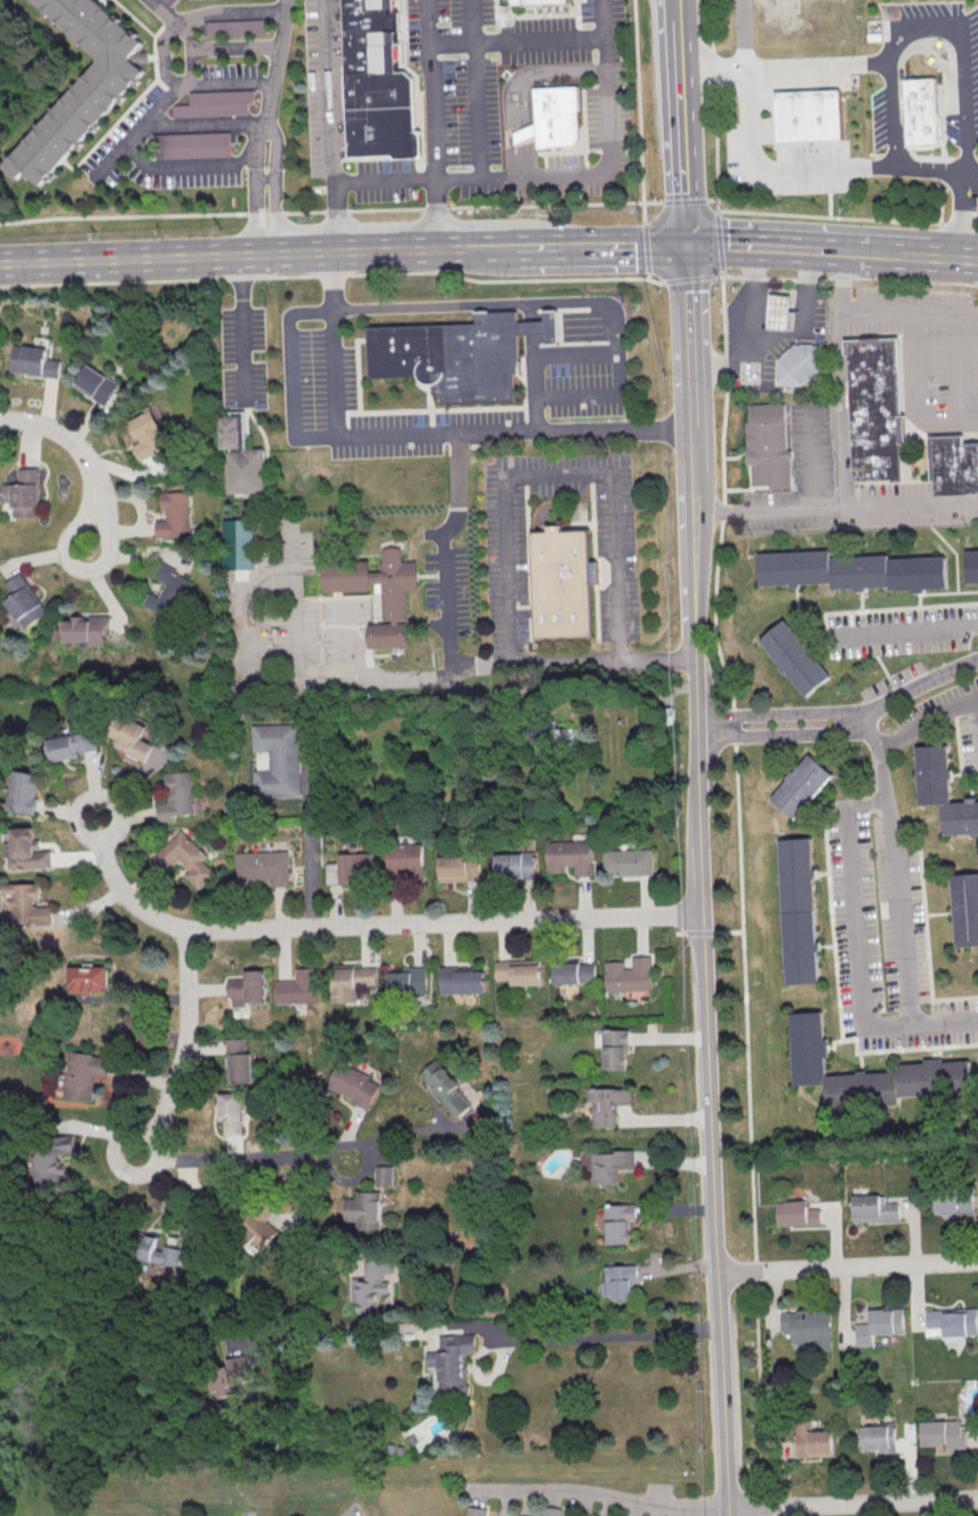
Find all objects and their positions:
building: (167, 1)
building: (540, 2)
road: (674, 8)
road: (161, 12)
building: (234, 27)
road: (742, 36)
road: (515, 39)
road: (161, 46)
road: (233, 47)
road: (962, 48)
road: (705, 52)
road: (275, 61)
road: (818, 66)
parking lot: (967, 73)
road: (677, 76)
building: (376, 84)
building: (79, 86)
road: (521, 87)
road: (474, 88)
road: (704, 94)
parking lot: (484, 98)
building: (214, 103)
road: (159, 106)
road: (715, 106)
building: (923, 112)
building: (813, 113)
parking lot: (760, 114)
building: (556, 117)
road: (430, 123)
road: (207, 124)
road: (333, 125)
building: (523, 135)
road: (782, 143)
road: (258, 144)
building: (191, 145)
road: (278, 145)
road: (820, 170)
road: (188, 171)
road: (560, 175)
road: (828, 179)
road: (268, 182)
road: (682, 189)
road: (686, 200)
road: (713, 200)
road: (644, 201)
road: (422, 207)
road: (259, 210)
road: (278, 211)
road: (847, 218)
traffic signals: (684, 242)
road: (598, 244)
road: (720, 244)
road: (768, 246)
road: (475, 247)
road: (424, 248)
road: (364, 249)
road: (288, 251)
road: (646, 251)
road: (876, 252)
road: (918, 255)
road: (130, 257)
road: (956, 257)
road: (332, 275)
road: (844, 276)
road: (687, 279)
road: (580, 301)
building: (777, 313)
gas station: (777, 313)
road: (909, 314)
road: (804, 317)
road: (243, 327)
road: (754, 336)
parking lot: (929, 352)
building: (459, 354)
building: (32, 361)
building: (798, 367)
road: (957, 371)
road: (289, 373)
building: (95, 384)
road: (917, 397)
building: (875, 410)
building: (148, 434)
road: (424, 434)
road: (573, 441)
road: (843, 444)
building: (768, 447)
road: (82, 457)
building: (240, 458)
building: (954, 466)
parking lot: (800, 481)
road: (499, 486)
building: (23, 493)
parking lot: (903, 507)
road: (806, 510)
building: (172, 516)
building: (238, 544)
building: (971, 567)
building: (851, 572)
building: (561, 583)
building: (165, 591)
building: (24, 601)
building: (394, 607)
building: (87, 629)
parking lot: (901, 632)
road: (906, 633)
building: (792, 659)
road: (563, 663)
road: (918, 687)
road: (977, 711)
road: (778, 715)
parking lot: (947, 719)
road: (927, 724)
building: (543, 734)
building: (135, 735)
road: (781, 736)
building: (73, 745)
building: (277, 760)
building: (800, 787)
building: (25, 792)
building: (942, 793)
building: (176, 796)
building: (24, 849)
building: (565, 853)
road: (310, 854)
building: (402, 857)
building: (184, 859)
building: (626, 863)
building: (511, 866)
building: (261, 869)
building: (350, 869)
building: (457, 869)
road: (698, 879)
road: (125, 889)
road: (740, 892)
road: (898, 902)
building: (25, 904)
building: (964, 911)
building: (797, 912)
road: (856, 918)
road: (444, 924)
parking lot: (884, 939)
building: (517, 971)
building: (571, 971)
building: (625, 977)
building: (352, 978)
building: (88, 979)
building: (407, 979)
building: (459, 979)
building: (298, 987)
building: (244, 992)
building: (138, 1028)
road: (185, 1049)
building: (615, 1049)
building: (238, 1061)
building: (950, 1064)
building: (83, 1075)
building: (354, 1084)
building: (446, 1088)
building: (607, 1105)
building: (231, 1113)
road: (398, 1138)
building: (52, 1158)
road: (243, 1158)
building: (609, 1166)
building: (384, 1175)
road: (300, 1190)
building: (950, 1203)
building: (872, 1208)
road: (200, 1209)
building: (364, 1210)
building: (795, 1212)
building: (618, 1223)
building: (257, 1231)
building: (154, 1251)
road: (846, 1266)
building: (619, 1282)
building: (371, 1285)
building: (952, 1321)
road: (396, 1323)
building: (878, 1325)
building: (807, 1328)
road: (619, 1334)
building: (452, 1361)
building: (231, 1375)
building: (943, 1434)
building: (877, 1438)
building: (812, 1440)
road: (594, 1493)
road: (852, 1504)
building: (474, 1511)
building: (550, 1511)
building: (517, 1515)
building: (592, 1515)

